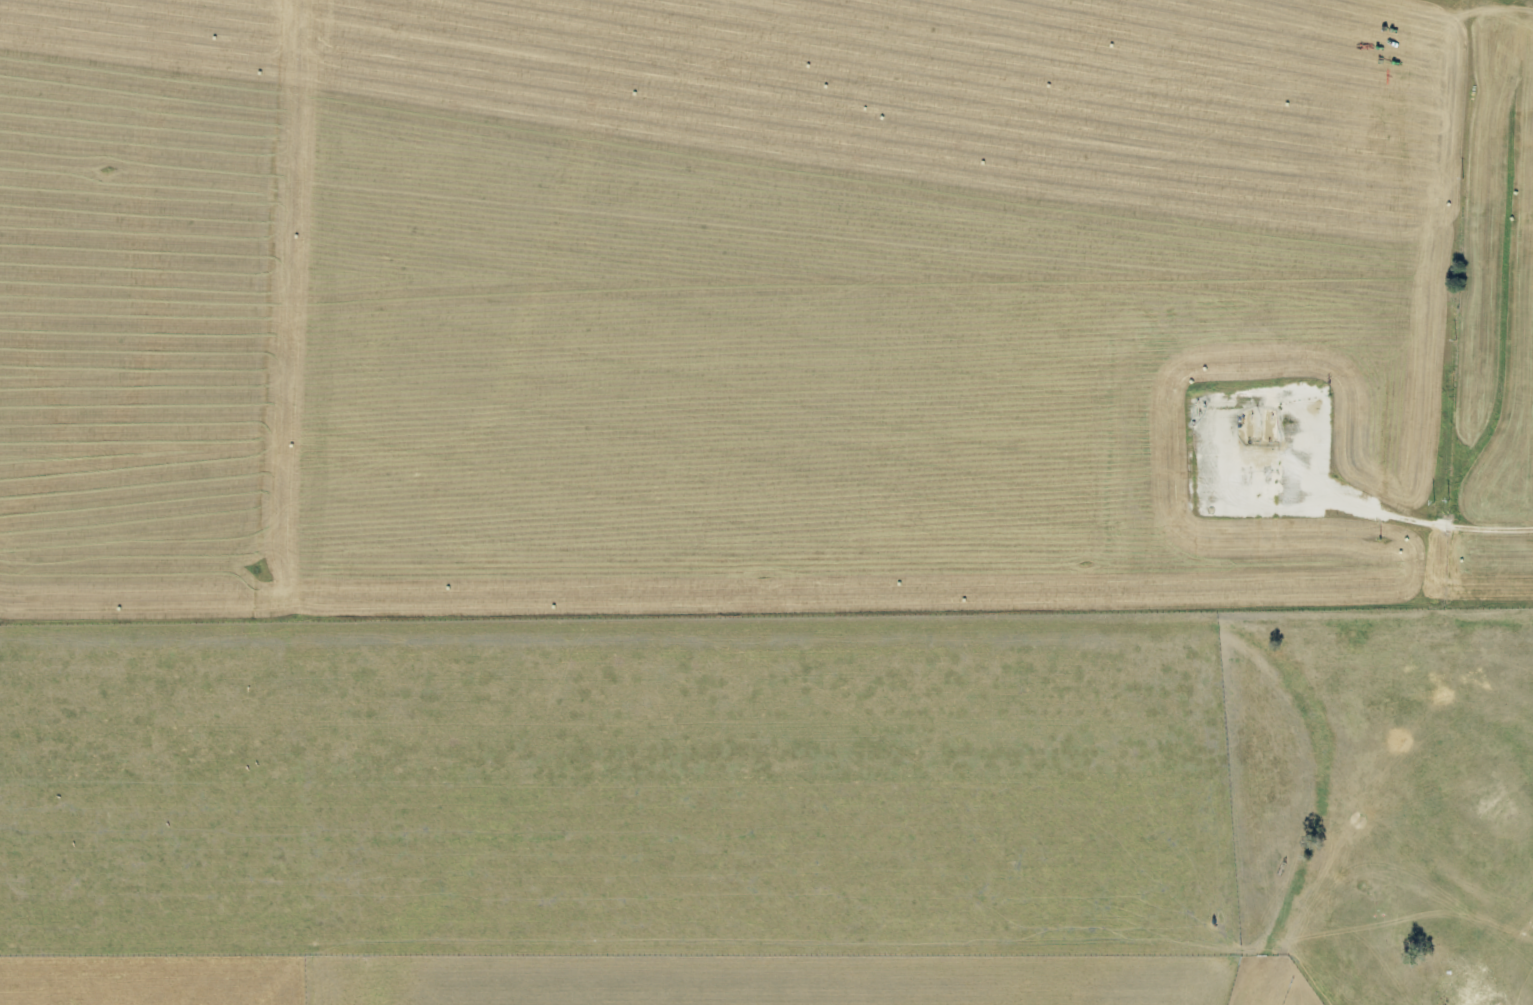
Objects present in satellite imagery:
petroleum well: (1249, 442)
road: (1391, 516)

